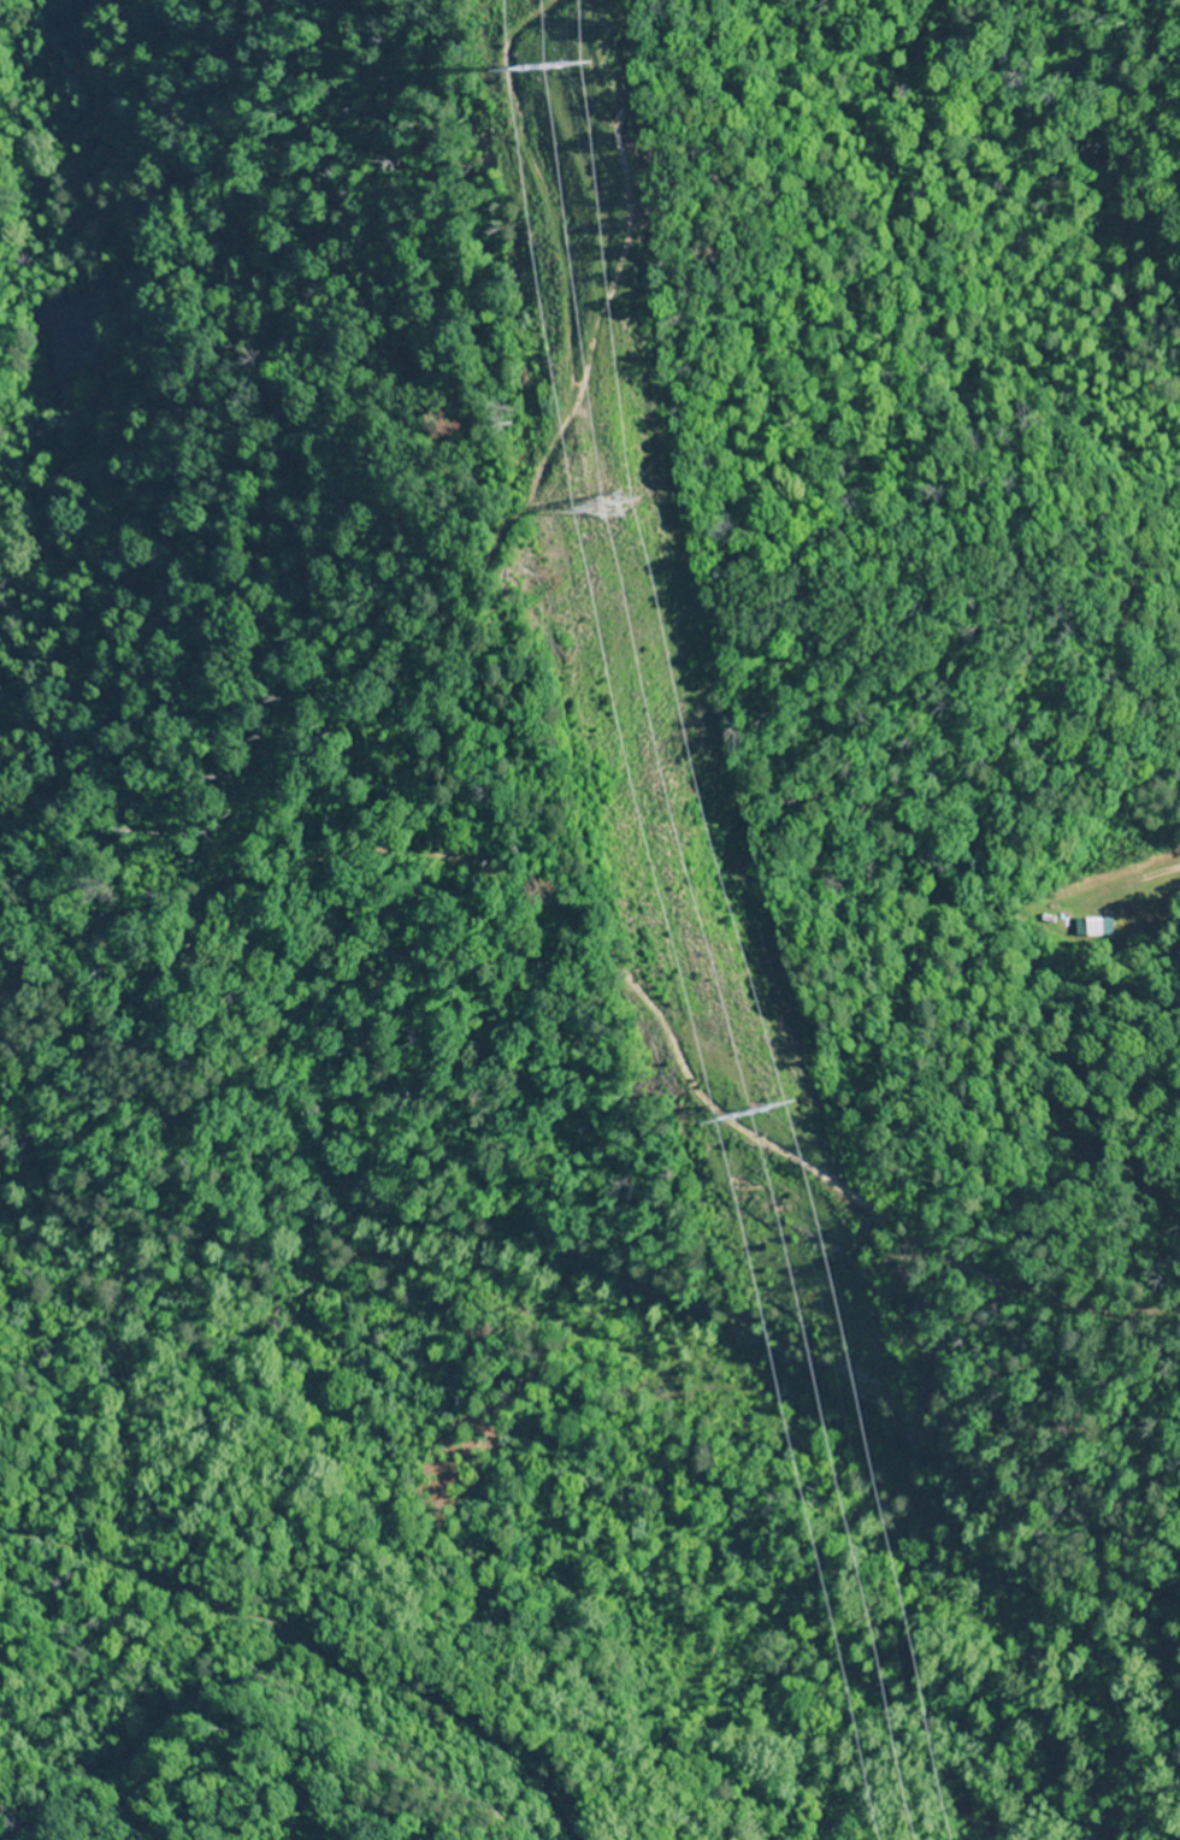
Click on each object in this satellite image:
power tower: (556, 81)
power tower: (760, 1170)
road: (601, 1505)

